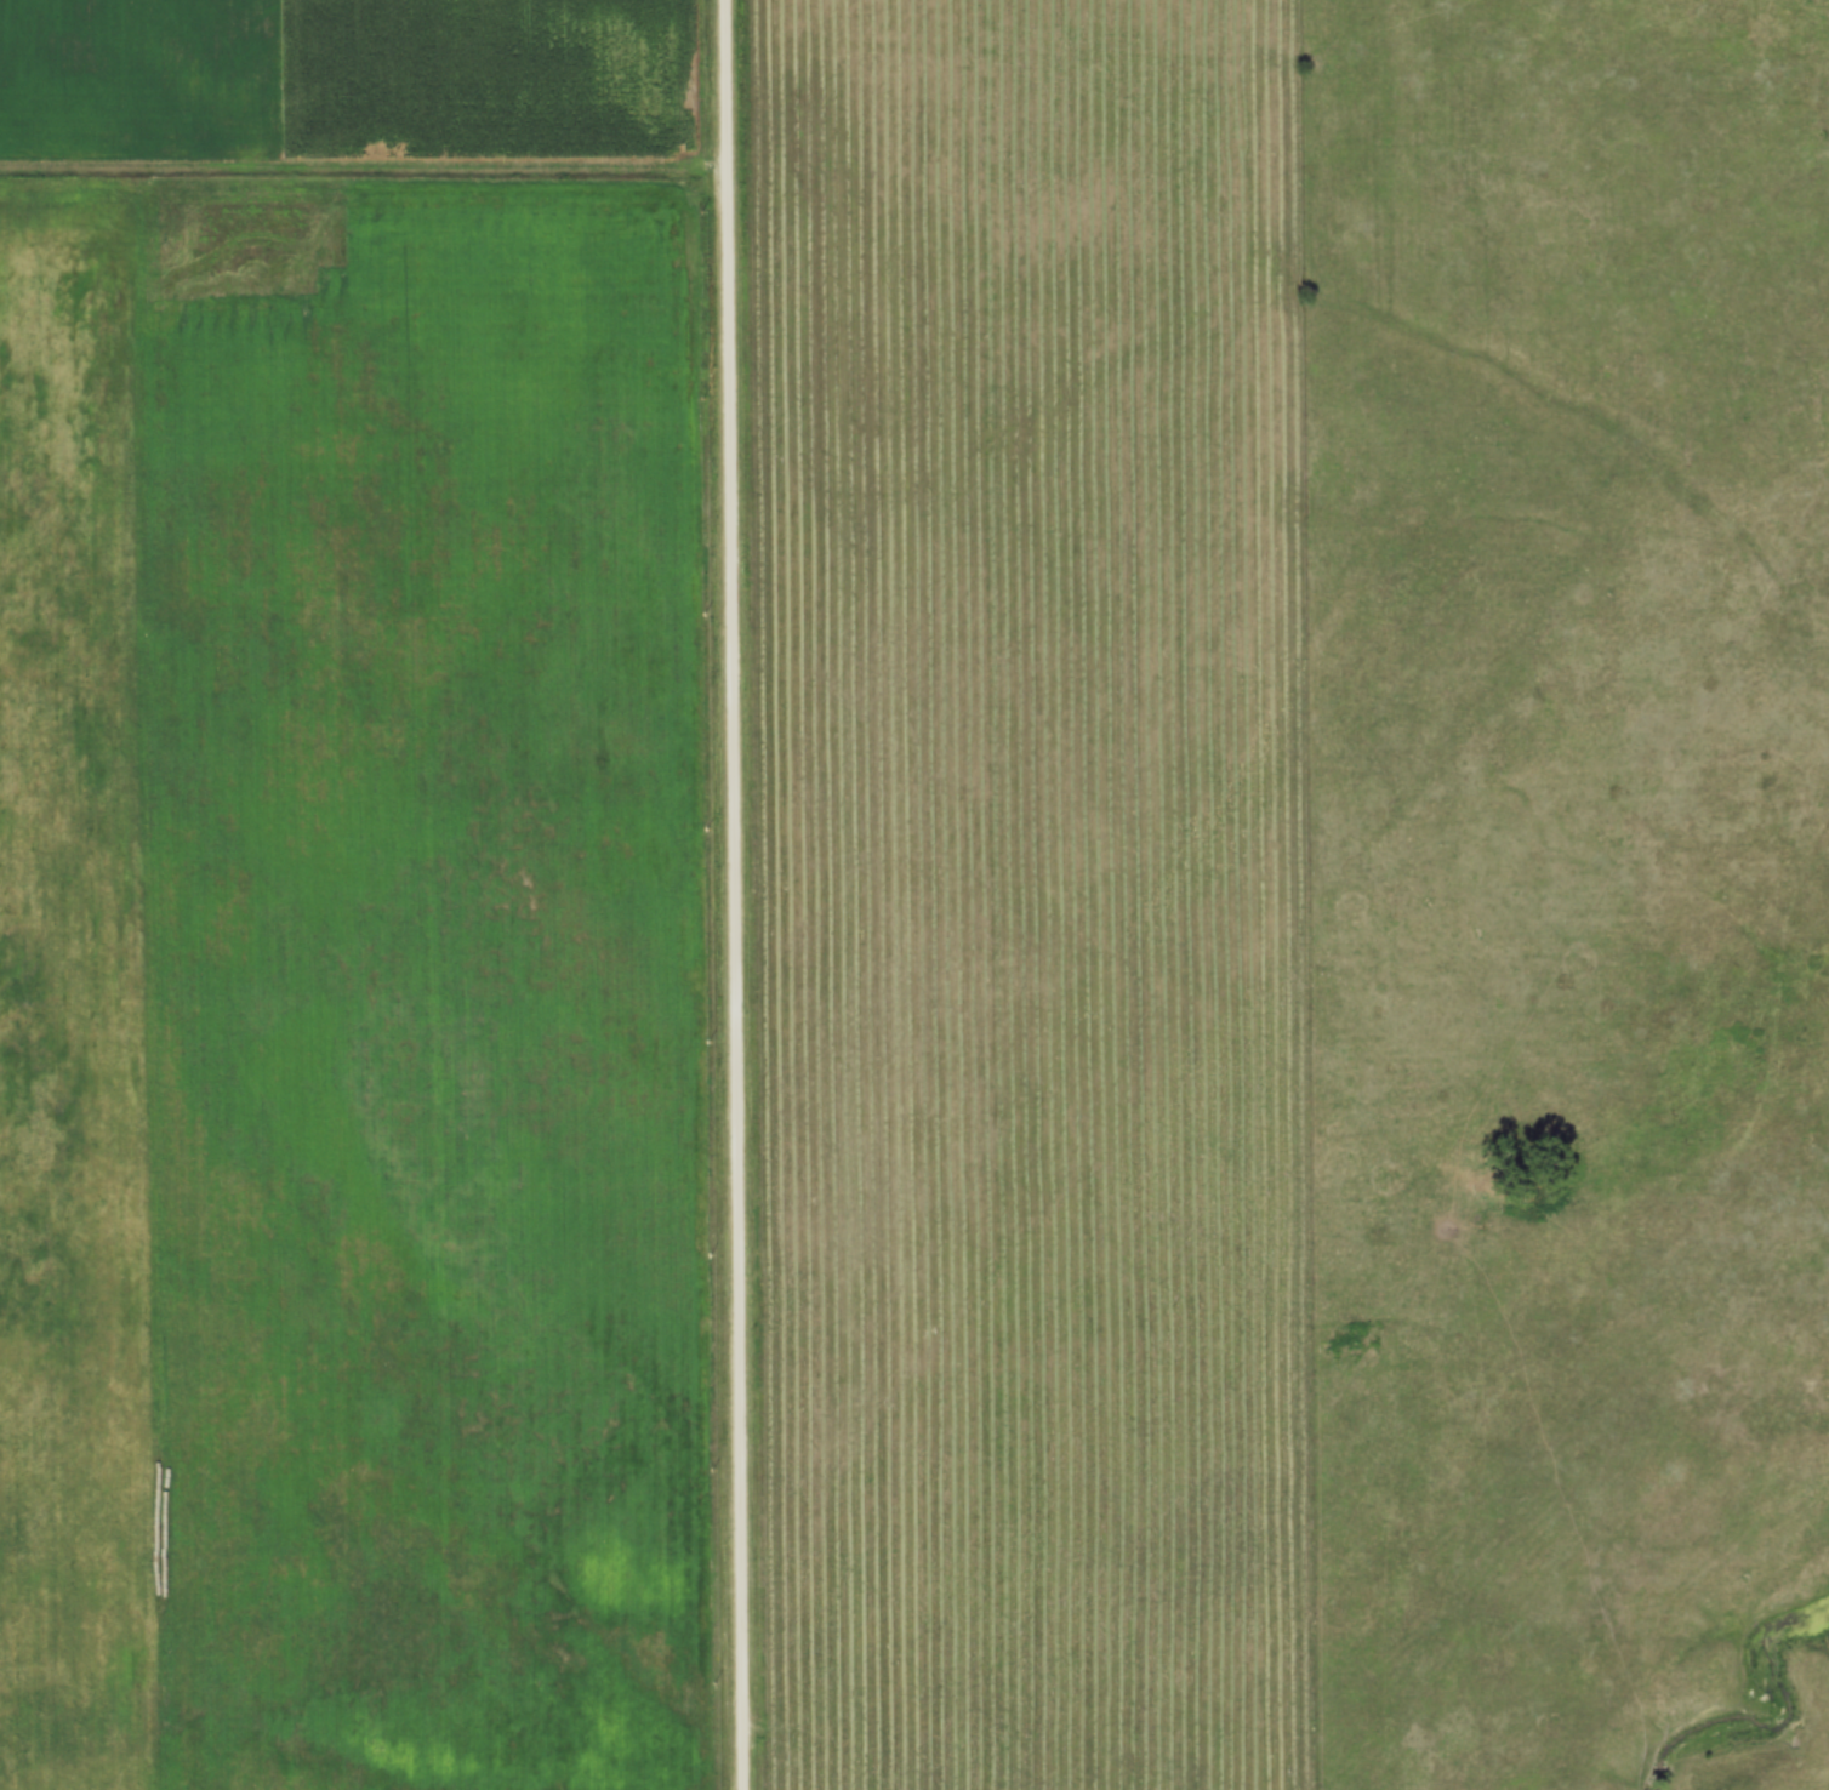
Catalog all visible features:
road: (730, 894)

